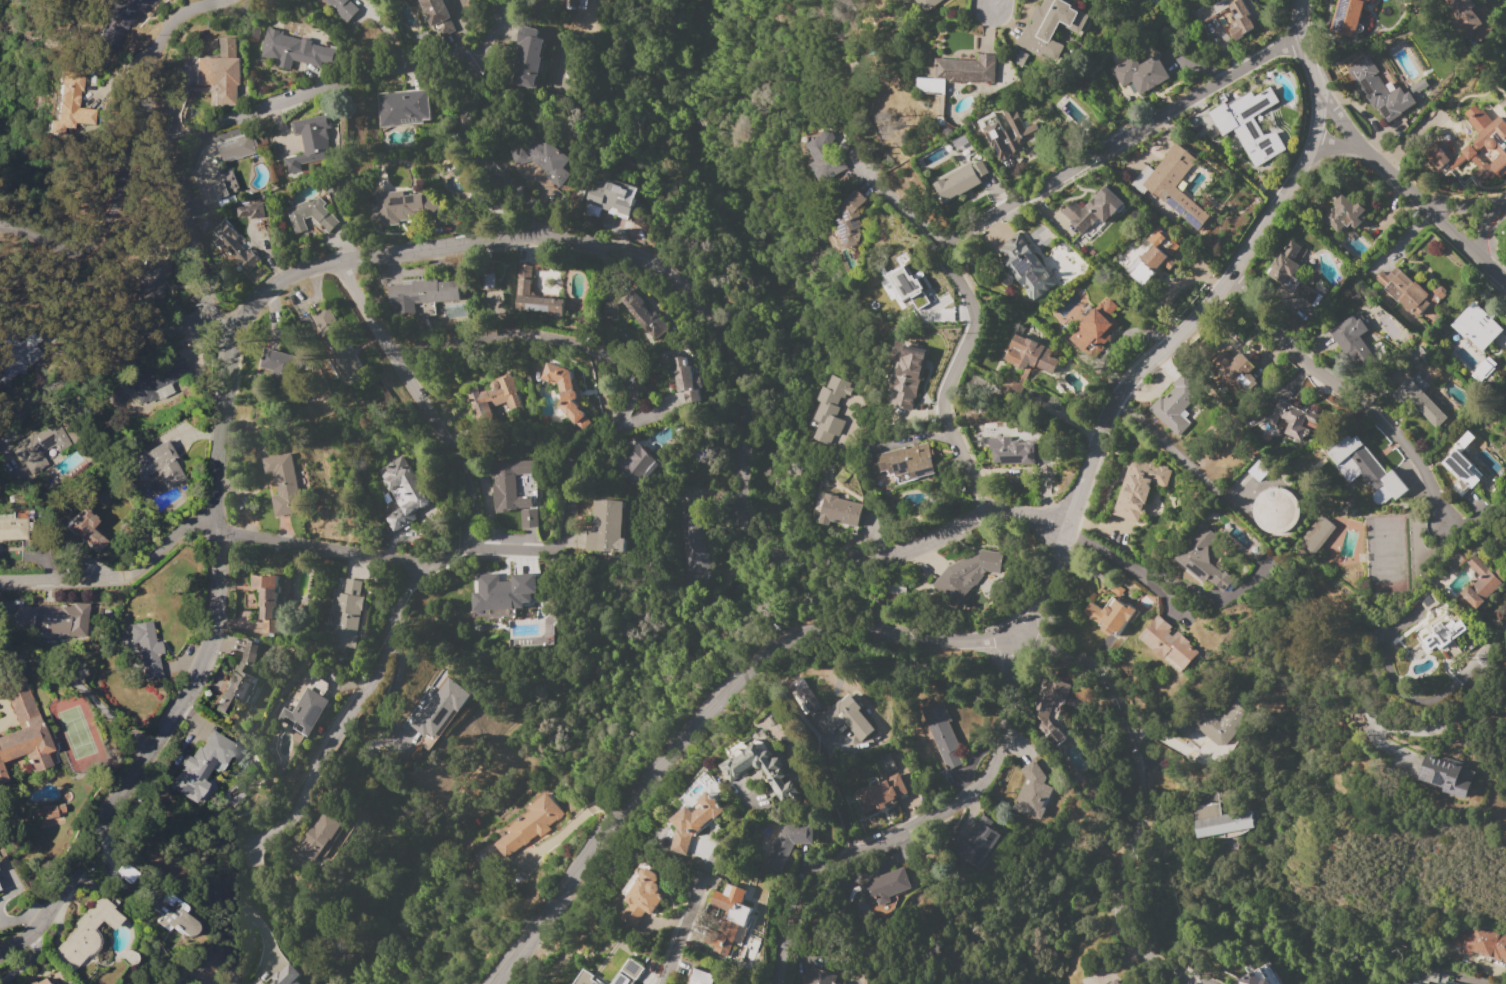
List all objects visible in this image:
building: (925, 4)
road: (983, 4)
building: (572, 5)
building: (340, 9)
building: (433, 10)
building: (1367, 11)
building: (1345, 16)
building: (1241, 19)
building: (121, 20)
building: (1469, 20)
building: (1049, 26)
building: (294, 50)
building: (526, 58)
building: (1147, 70)
building: (220, 72)
building: (957, 73)
building: (559, 83)
road: (315, 88)
building: (1378, 90)
building: (1415, 90)
building: (70, 104)
building: (402, 107)
building: (1248, 125)
building: (1006, 132)
road: (463, 133)
building: (1490, 138)
building: (311, 140)
road: (1334, 143)
road: (159, 144)
building: (821, 157)
building: (542, 160)
building: (203, 168)
building: (1169, 181)
building: (957, 184)
road: (1408, 195)
building: (608, 198)
road: (1463, 202)
road: (102, 206)
building: (404, 207)
road: (901, 209)
building: (251, 210)
building: (1090, 212)
road: (996, 214)
building: (1342, 214)
building: (310, 215)
building: (849, 219)
road: (1487, 225)
building: (234, 245)
park: (1499, 245)
building: (1145, 258)
building: (1283, 263)
building: (1027, 267)
building: (149, 277)
building: (523, 281)
building: (900, 284)
building: (1304, 293)
building: (421, 294)
building: (1408, 297)
building: (635, 306)
building: (1095, 326)
building: (1476, 326)
road: (156, 328)
building: (1351, 339)
building: (333, 343)
road: (712, 343)
building: (1031, 355)
building: (17, 357)
building: (277, 364)
building: (1238, 372)
building: (902, 375)
building: (918, 376)
building: (156, 378)
building: (685, 379)
building: (566, 392)
road: (1349, 395)
building: (495, 397)
road: (417, 399)
building: (1419, 403)
building: (1174, 405)
building: (829, 410)
building: (1291, 420)
road: (1165, 446)
building: (38, 447)
building: (1010, 451)
building: (907, 461)
building: (159, 464)
building: (635, 464)
building: (1366, 469)
building: (1461, 472)
building: (508, 485)
building: (283, 486)
building: (1138, 488)
building: (402, 492)
road: (867, 492)
road: (567, 501)
building: (1274, 510)
building: (839, 511)
building: (528, 519)
building: (14, 524)
building: (603, 527)
building: (86, 529)
building: (1317, 534)
building: (692, 542)
road: (1102, 550)
building: (1203, 560)
building: (1455, 561)
building: (966, 573)
road: (116, 575)
building: (1481, 582)
building: (504, 592)
building: (267, 601)
building: (1110, 611)
building: (345, 614)
road: (1024, 617)
building: (55, 618)
building: (1440, 631)
building: (1169, 644)
building: (147, 647)
road: (1484, 650)
road: (195, 674)
building: (240, 679)
road: (1403, 697)
building: (1047, 703)
building: (438, 709)
building: (305, 712)
road: (355, 717)
building: (846, 717)
building: (1220, 723)
building: (24, 728)
road: (1415, 731)
building: (942, 734)
building: (885, 763)
building: (202, 765)
building: (733, 772)
building: (1446, 774)
building: (1032, 792)
building: (882, 793)
road: (1139, 798)
building: (49, 814)
building: (694, 821)
building: (1218, 821)
building: (527, 826)
road: (913, 826)
road: (722, 832)
building: (319, 837)
building: (978, 842)
building: (787, 844)
building: (128, 877)
building: (883, 886)
building: (641, 896)
road: (231, 905)
building: (173, 913)
building: (726, 918)
road: (683, 928)
building: (86, 933)
building: (1479, 944)
building: (628, 973)
building: (285, 975)
building: (1257, 976)
building: (700, 977)
building: (819, 977)
building: (587, 978)
building: (41, 981)
building: (1114, 982)
building: (1401, 983)

